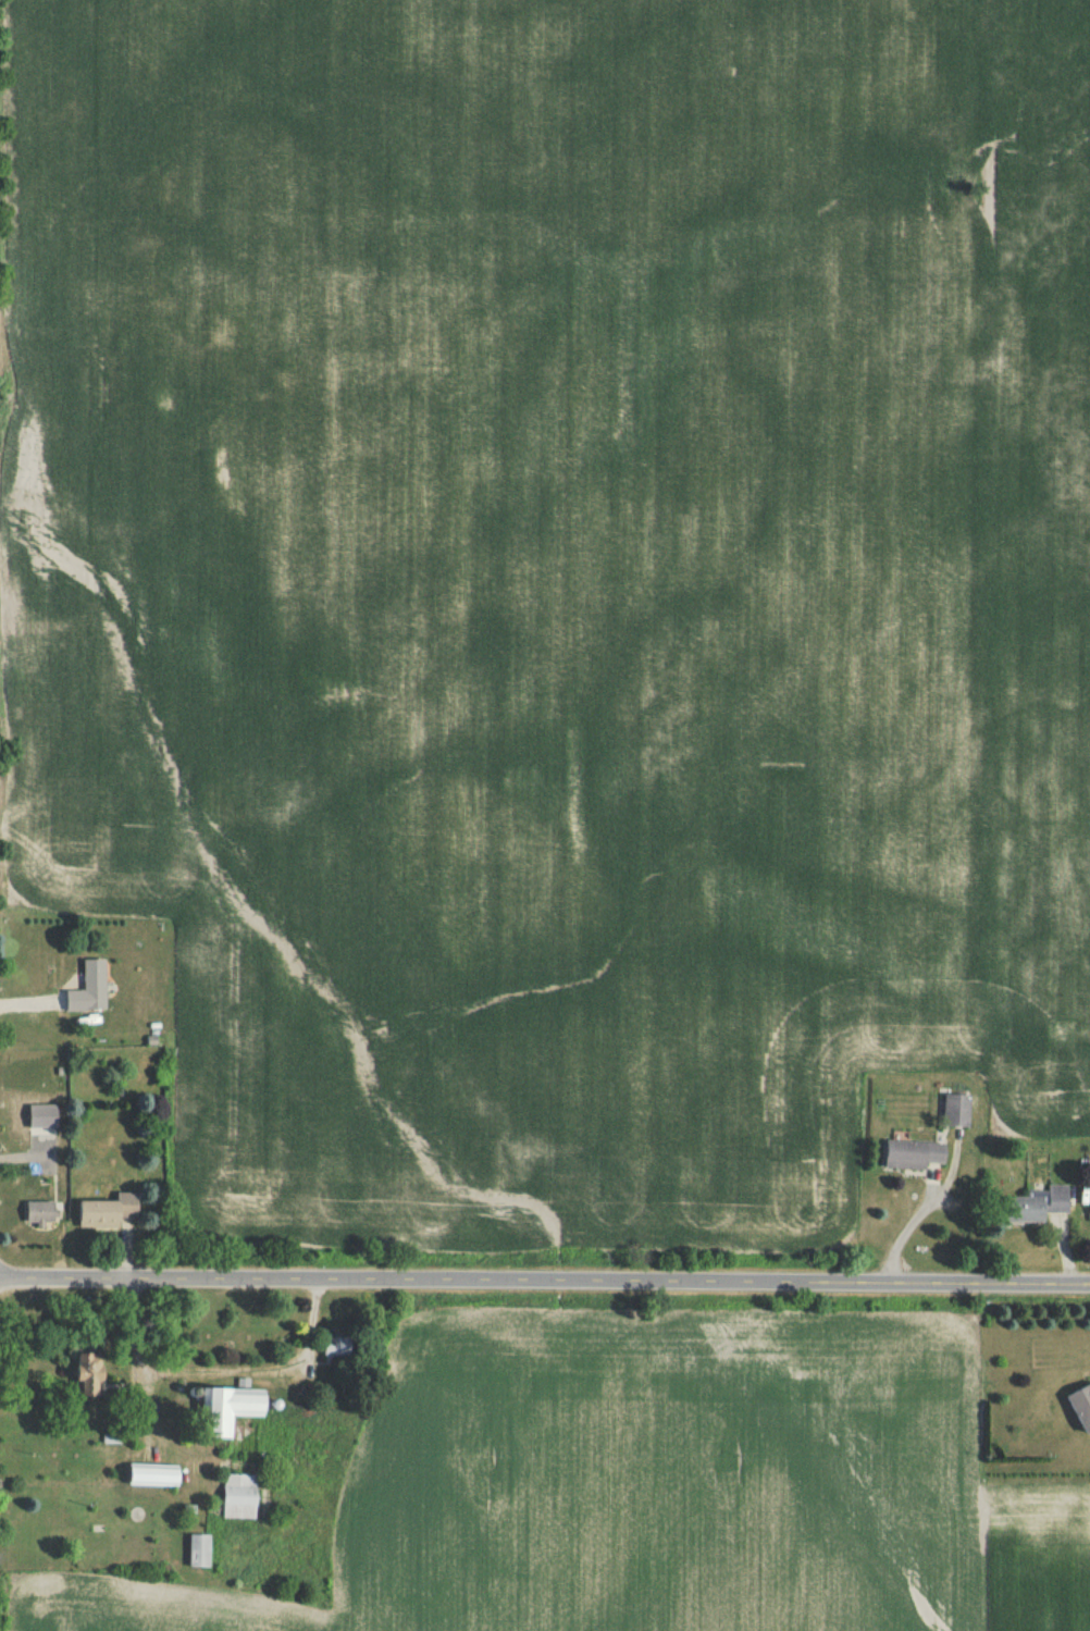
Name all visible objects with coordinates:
building: (90, 988)
building: (953, 1114)
building: (23, 1122)
building: (909, 1159)
building: (1031, 1208)
building: (103, 1215)
building: (36, 1216)
road: (918, 1216)
road: (544, 1283)
building: (327, 1350)
building: (84, 1379)
building: (222, 1412)
building: (148, 1480)
building: (237, 1500)
building: (197, 1555)

